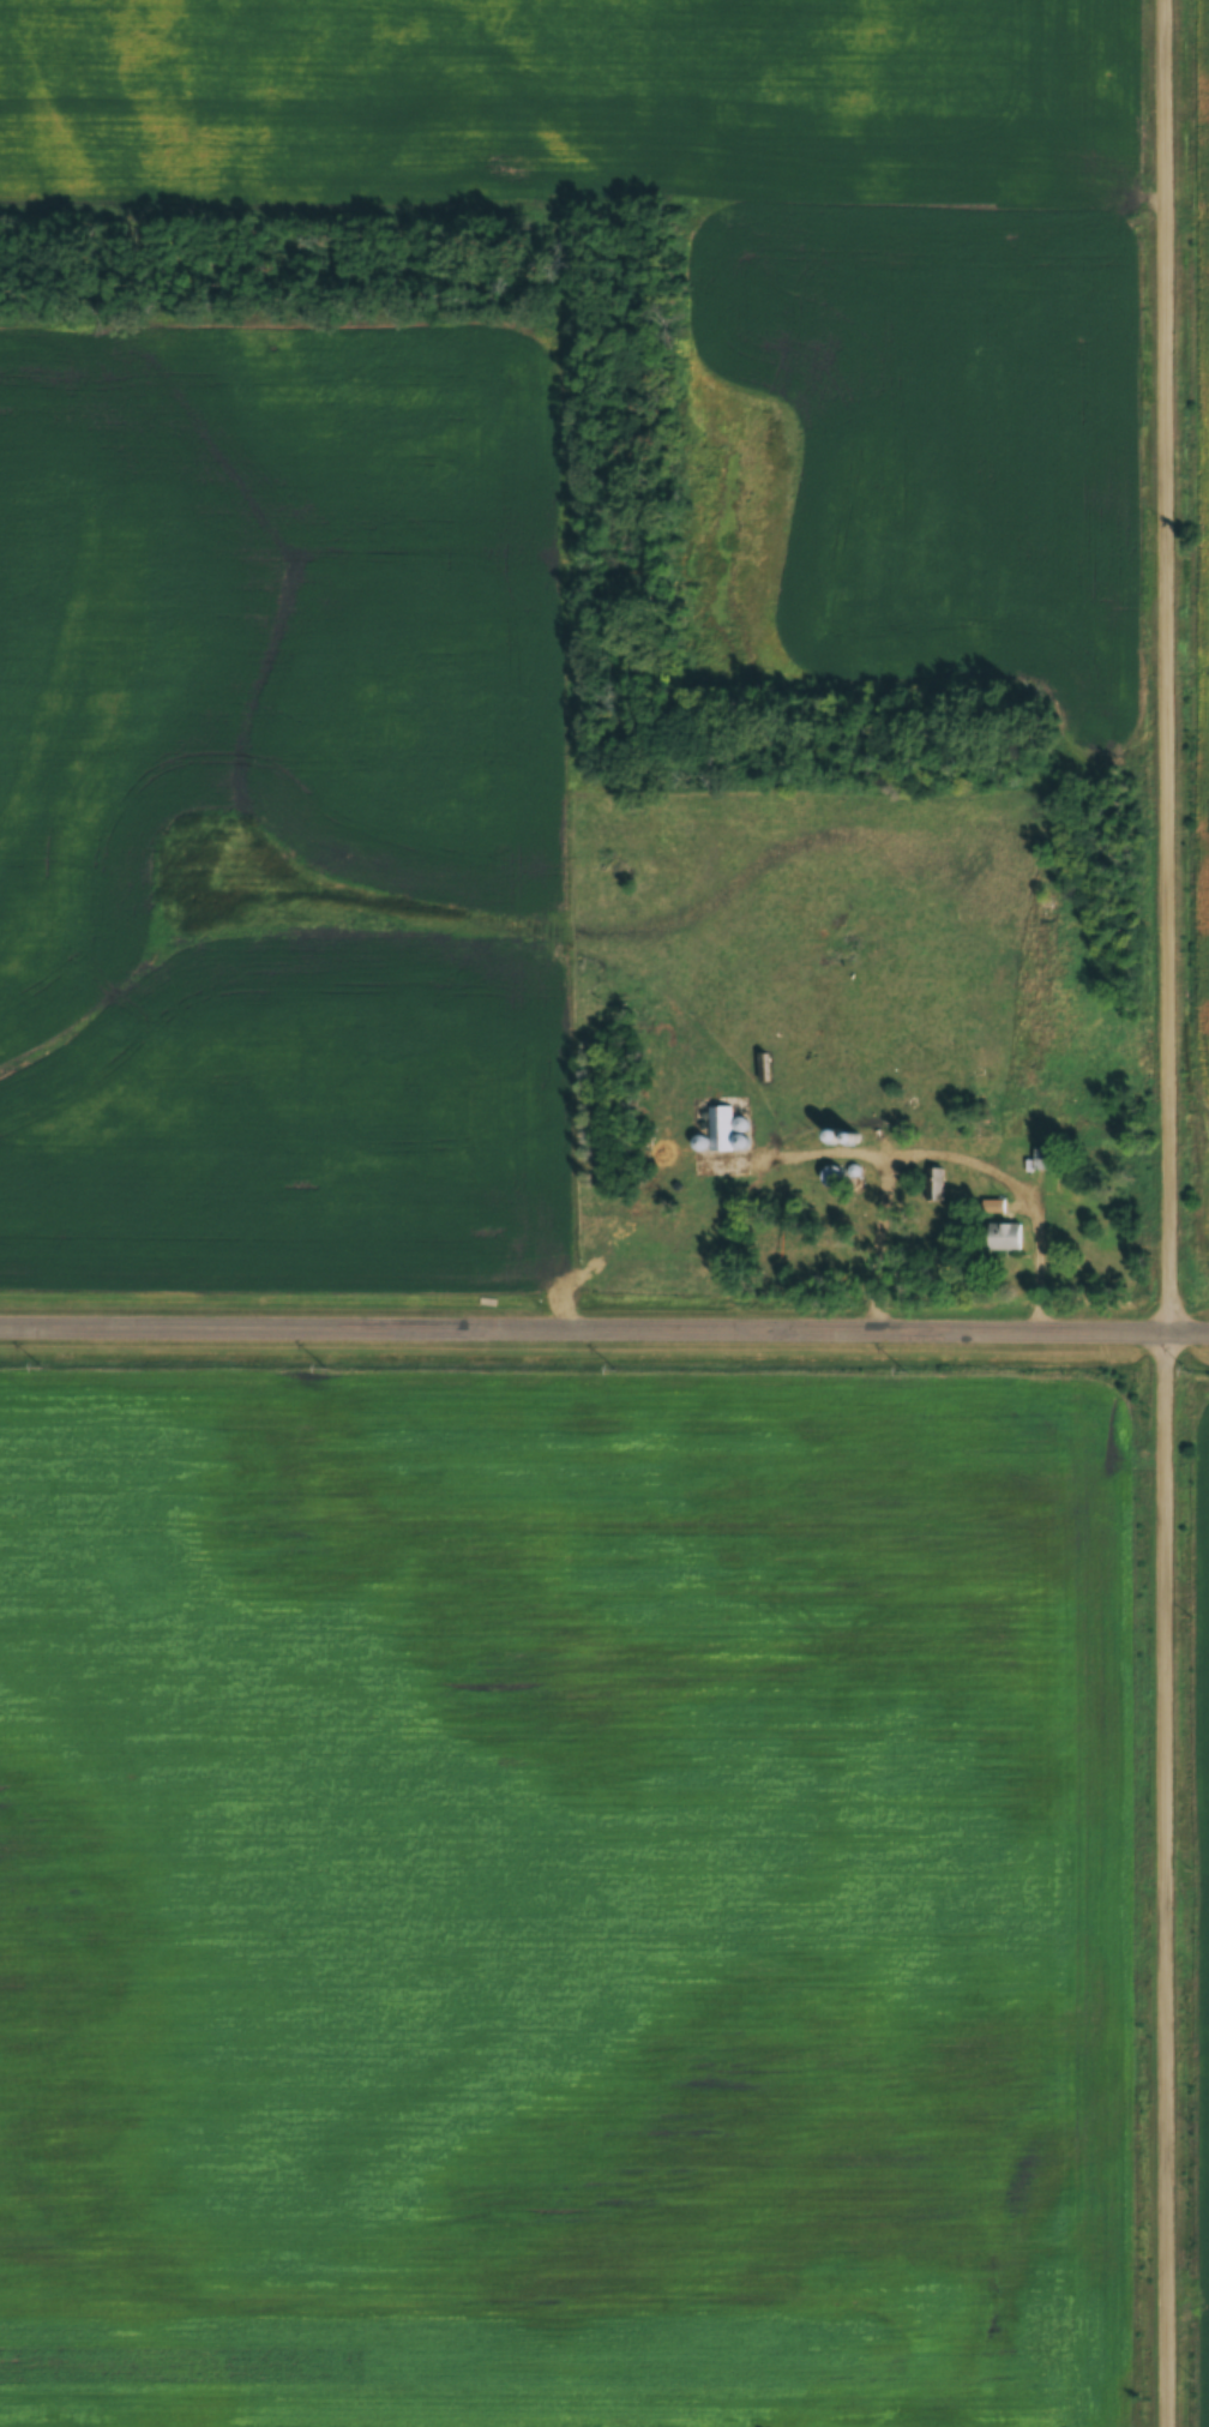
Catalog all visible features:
road: (1168, 669)
building: (721, 1128)
building: (1042, 1159)
building: (837, 1177)
building: (934, 1184)
building: (996, 1207)
building: (1007, 1237)
road: (585, 1335)
road: (1190, 1339)
road: (1171, 1882)

